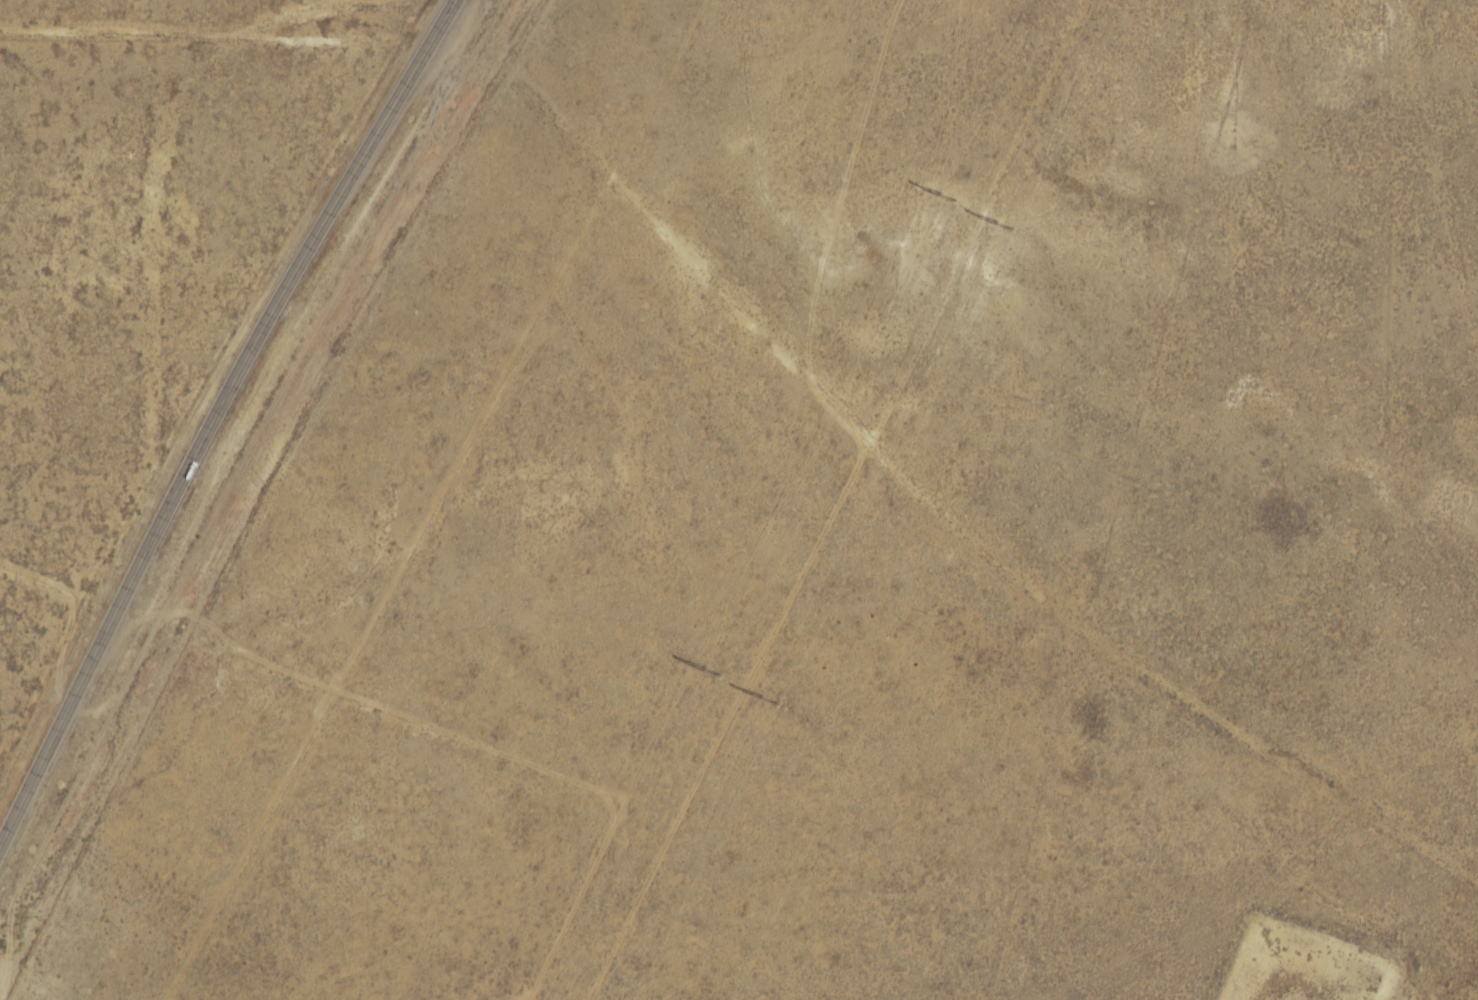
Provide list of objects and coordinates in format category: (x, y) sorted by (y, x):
power tower: (939, 192)
power tower: (1002, 219)
road: (213, 418)
power tower: (708, 669)
power tower: (779, 700)

